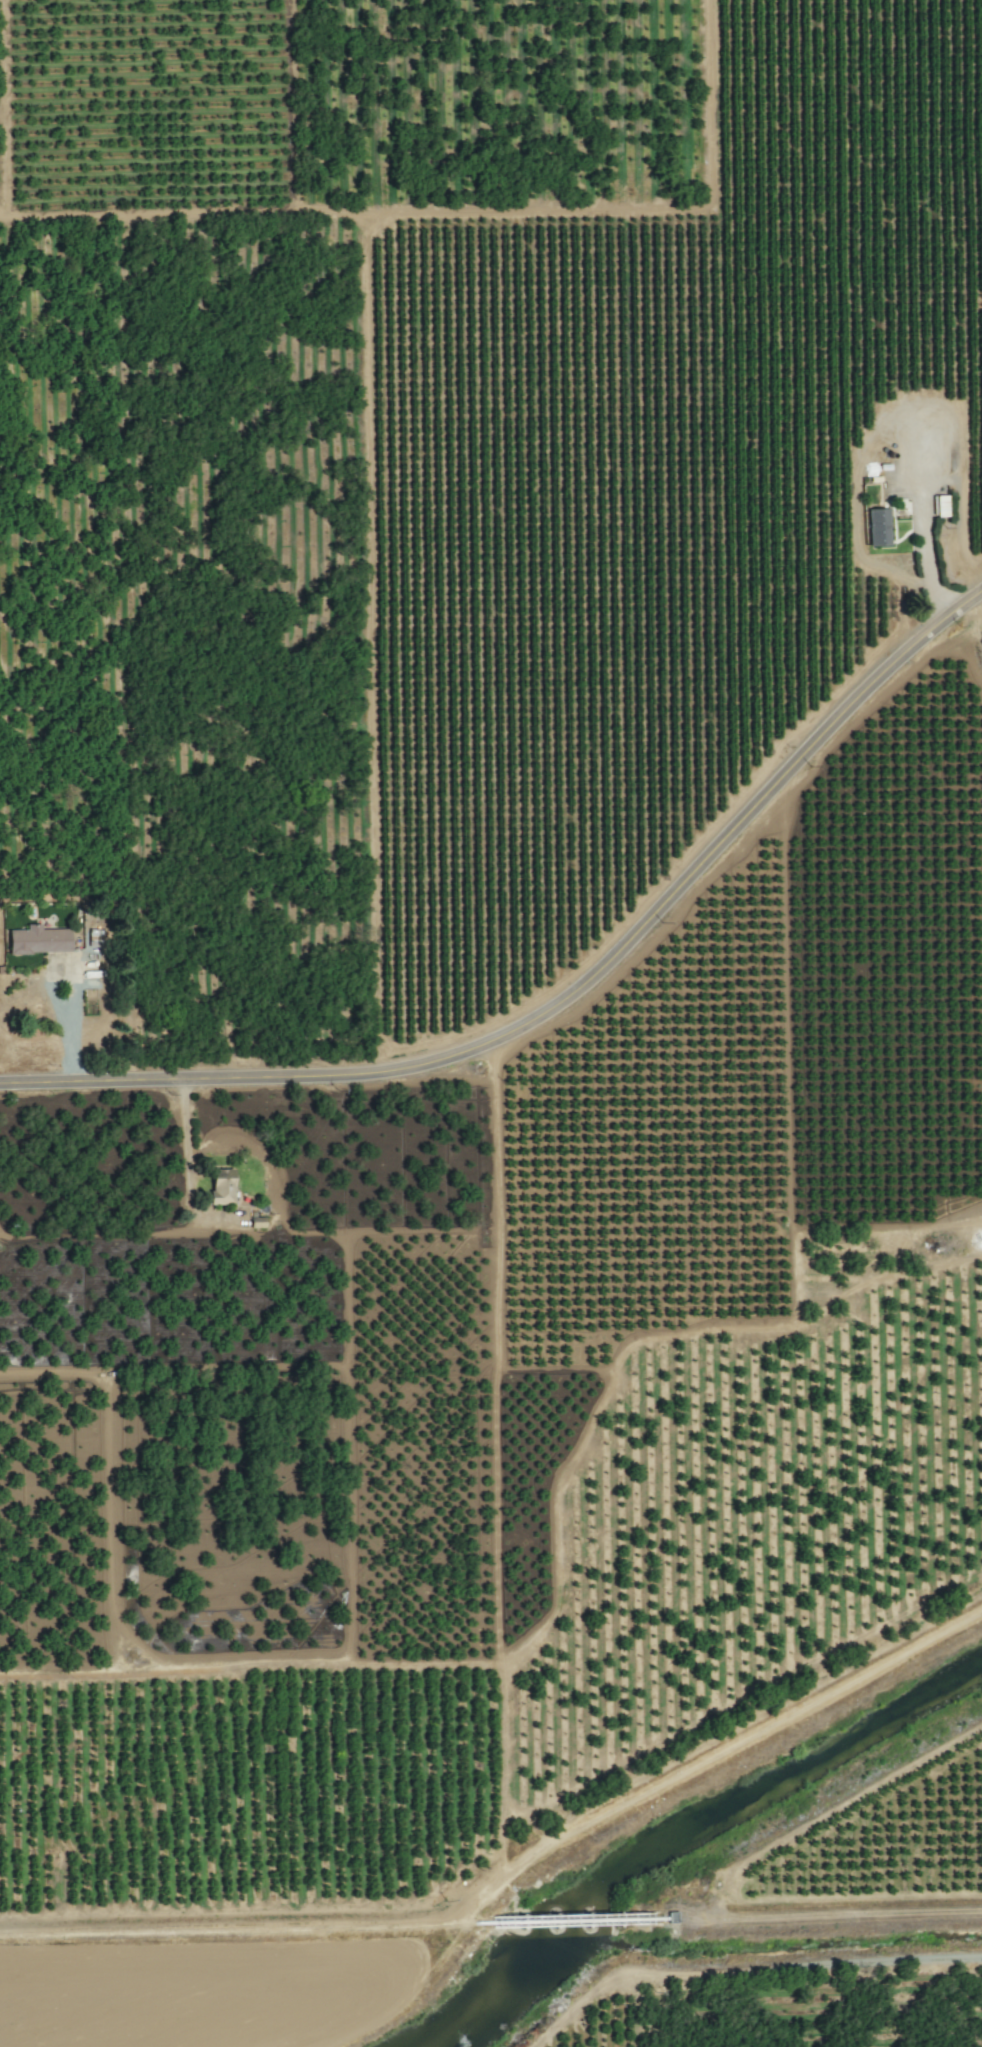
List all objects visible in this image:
building: (931, 451)
building: (941, 505)
building: (878, 526)
building: (38, 940)
road: (567, 1000)
road: (73, 1027)
road: (187, 1152)
building: (221, 1185)
building: (257, 1221)

